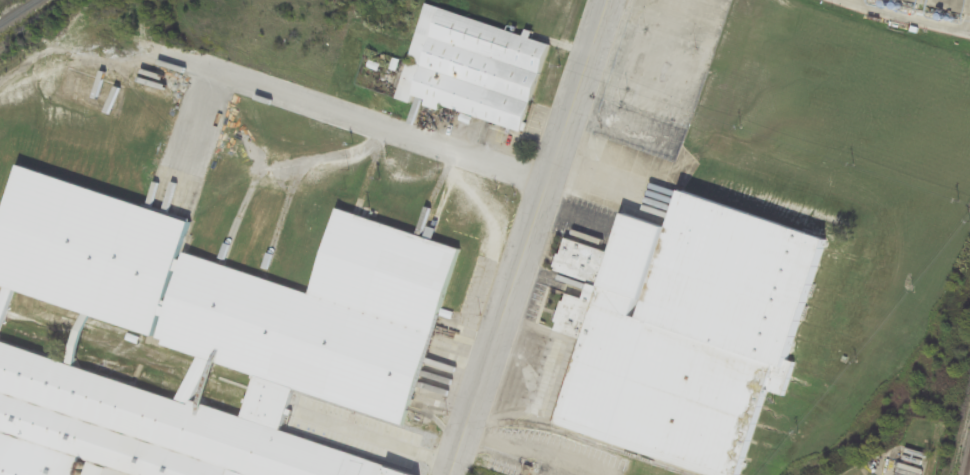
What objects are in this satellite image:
building: (932, 6)
railway: (22, 15)
building: (473, 67)
road: (358, 120)
road: (526, 237)
building: (212, 332)
building: (684, 332)
railway: (203, 386)
railway: (968, 467)

